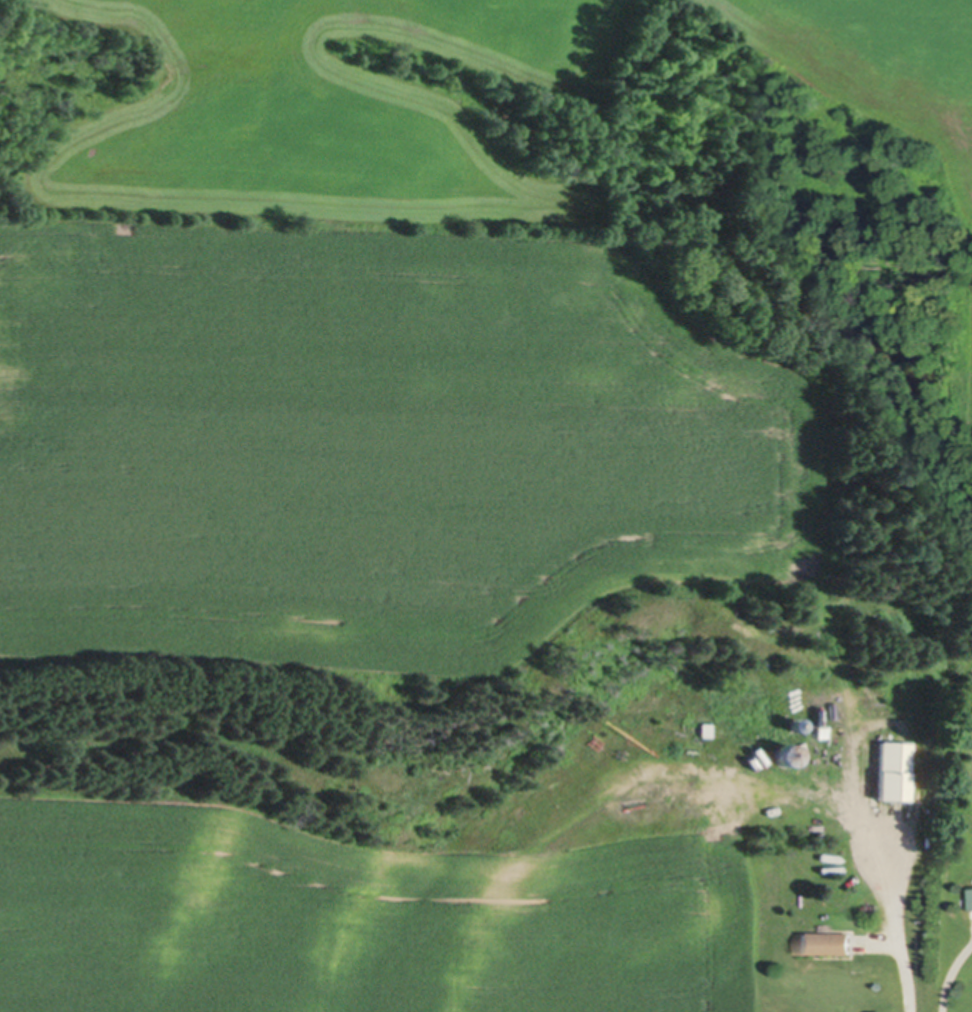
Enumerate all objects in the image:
building: (796, 725)
building: (706, 728)
building: (834, 741)
building: (785, 752)
building: (726, 753)
building: (893, 769)
building: (971, 893)
building: (886, 908)
road: (899, 932)
building: (825, 942)

